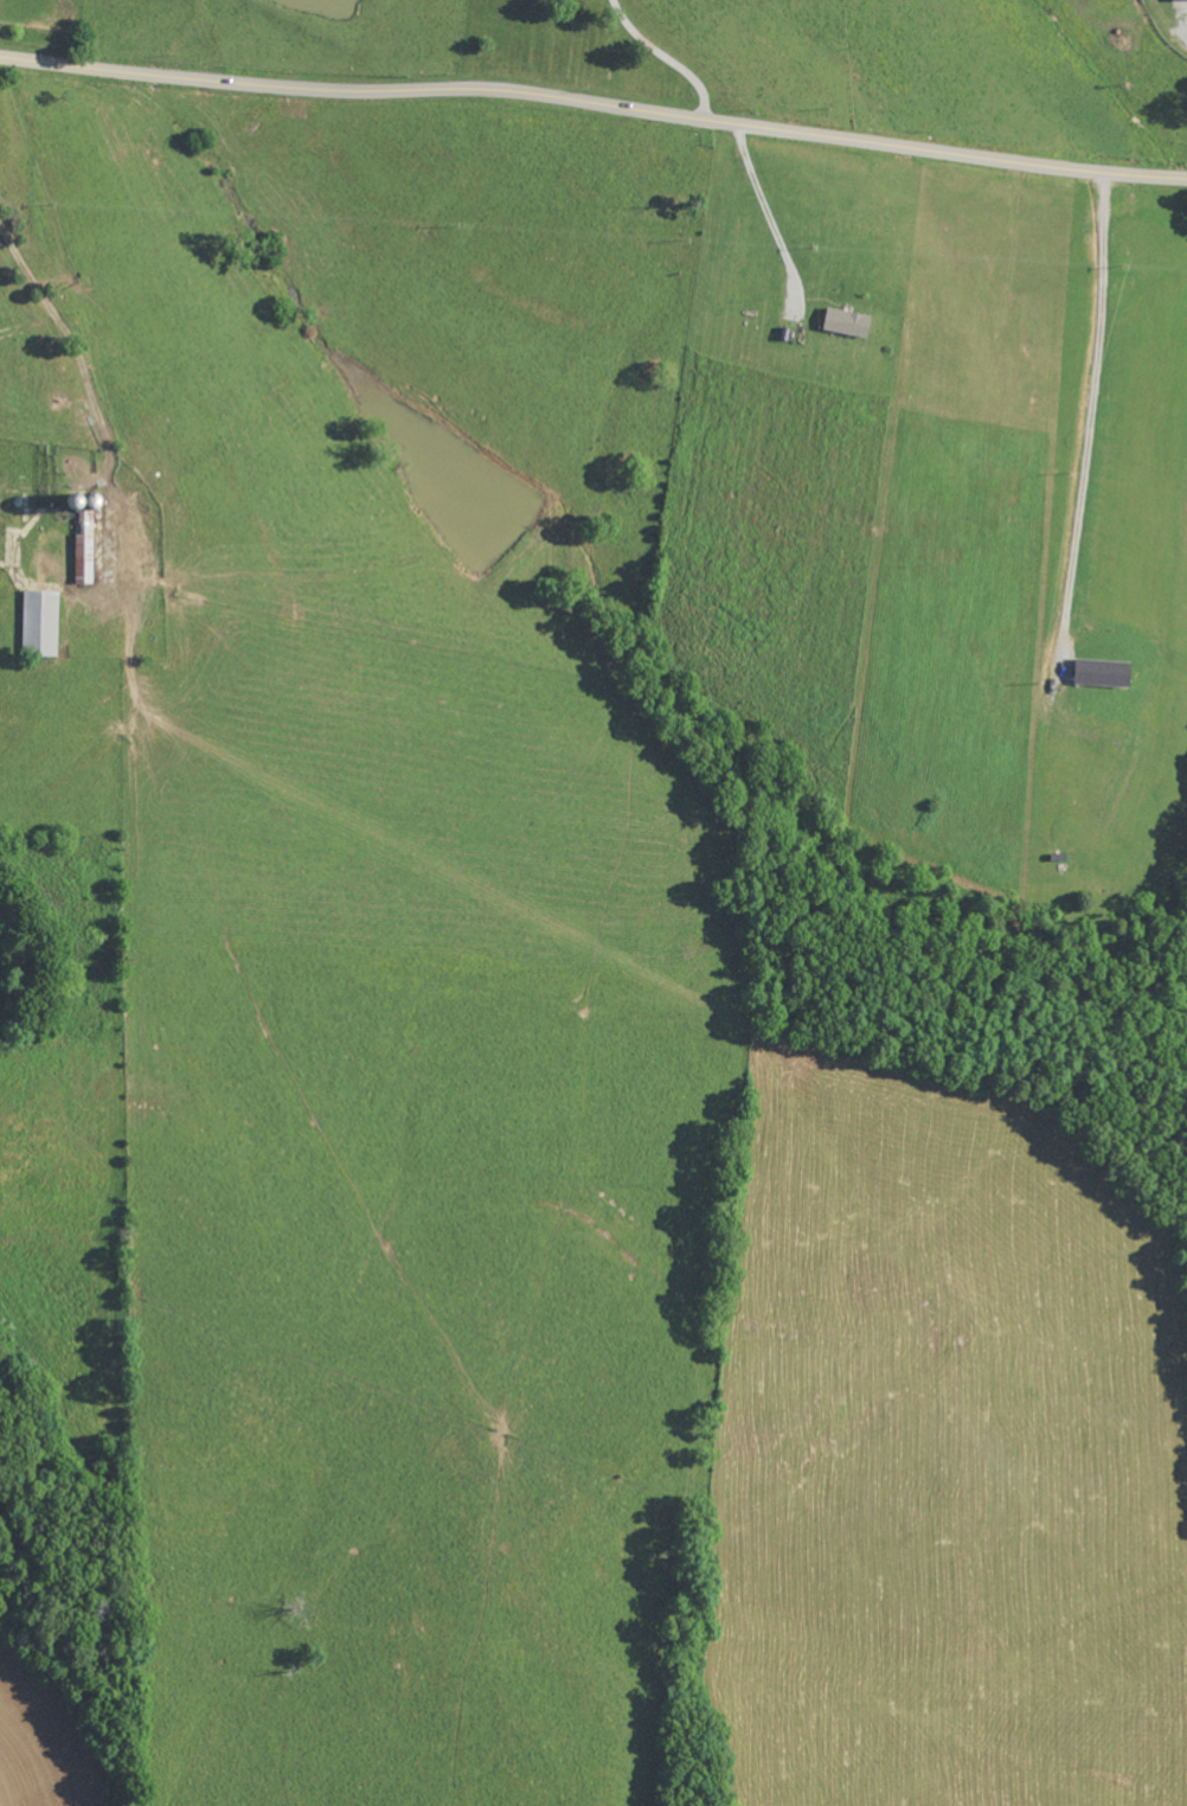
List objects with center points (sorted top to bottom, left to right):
building: (1180, 0)
road: (595, 100)
building: (848, 322)
road: (1091, 412)
building: (85, 540)
building: (41, 623)
building: (1104, 673)

